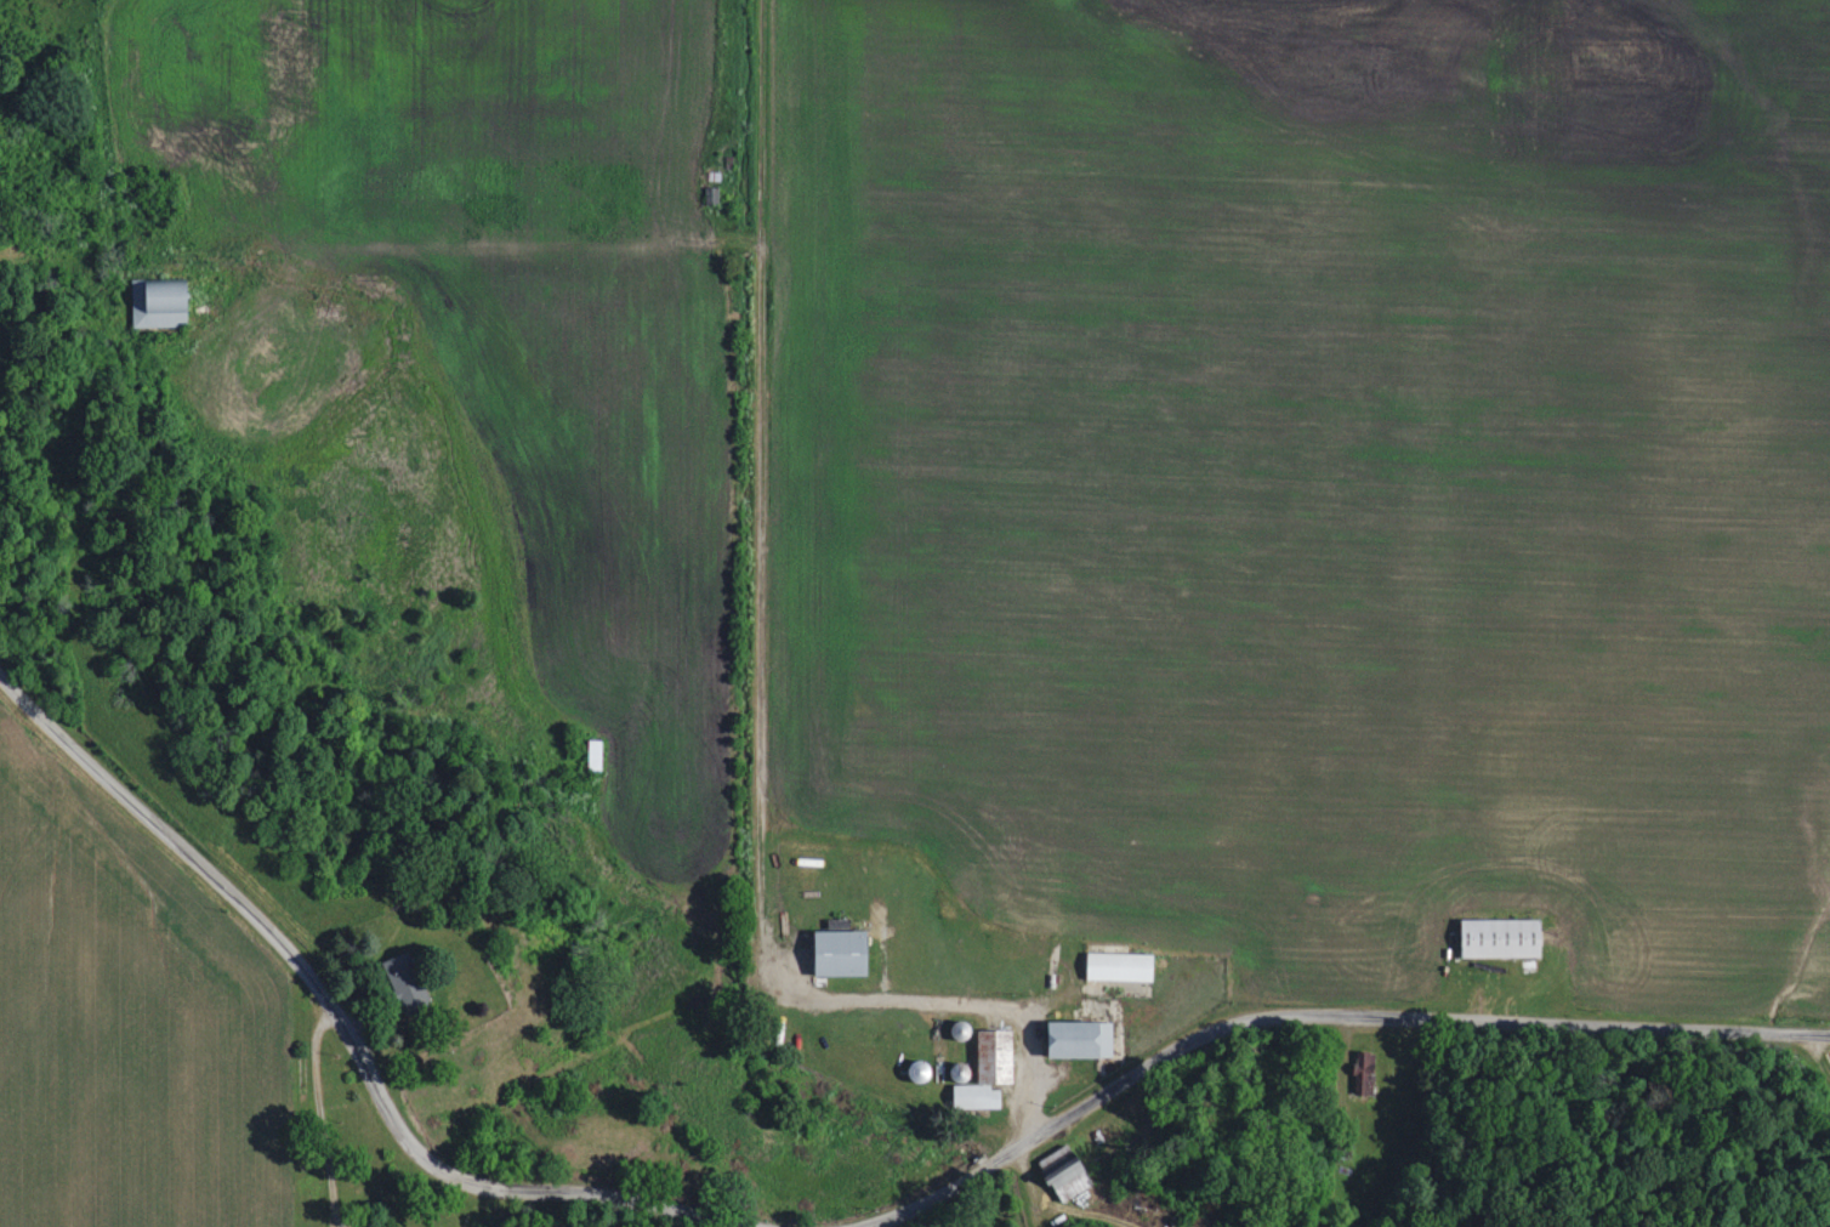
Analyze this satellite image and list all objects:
building: (159, 303)
building: (1501, 936)
building: (841, 949)
building: (1119, 965)
building: (403, 976)
road: (1318, 1016)
road: (341, 1017)
building: (1079, 1038)
building: (995, 1055)
building: (1363, 1075)
building: (977, 1095)

